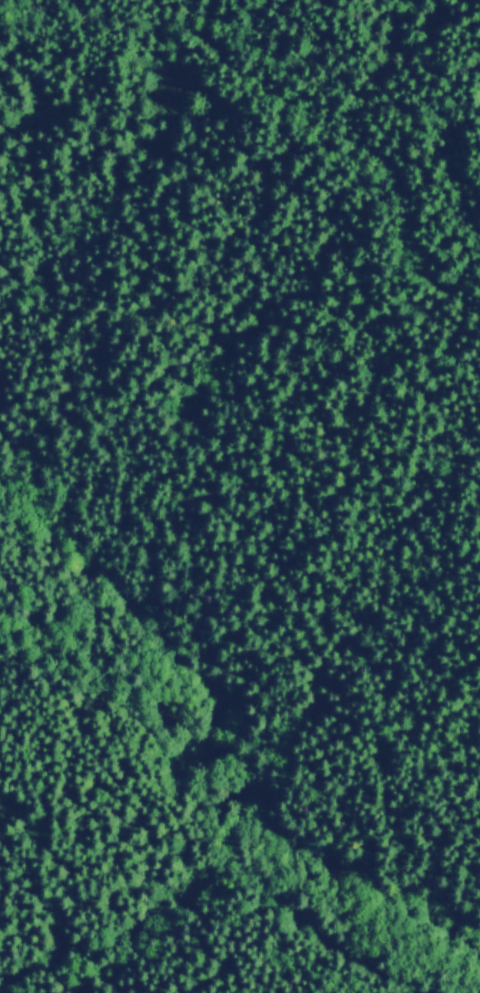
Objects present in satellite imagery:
road: (343, 136)
road: (230, 753)

